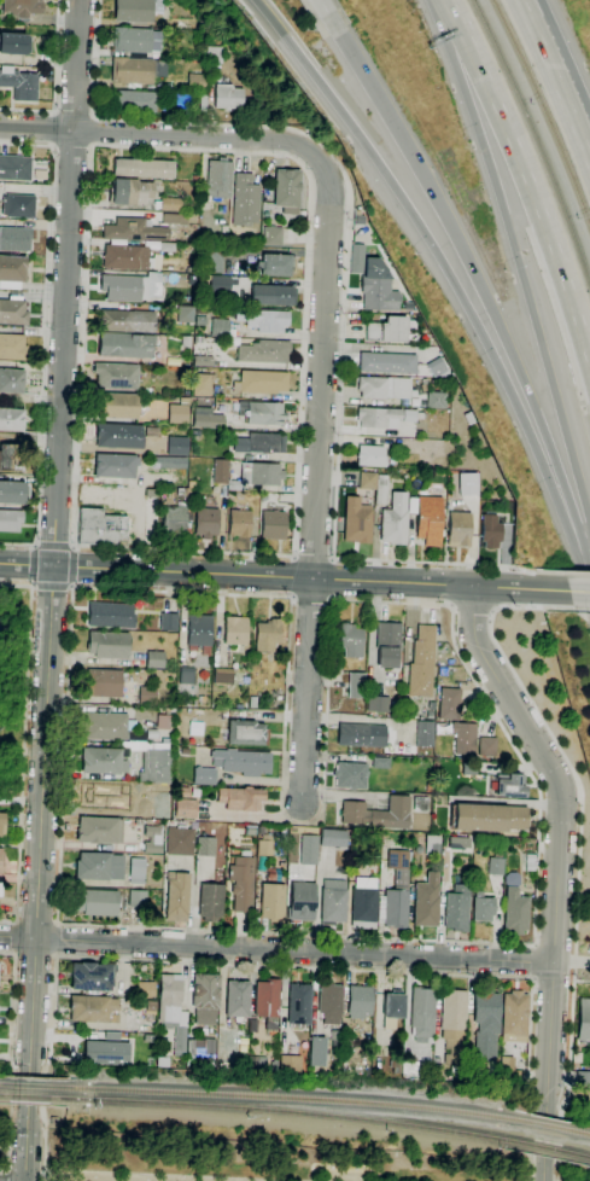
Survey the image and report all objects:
building: (22, 7)
building: (135, 10)
road: (327, 14)
building: (136, 41)
building: (13, 43)
building: (215, 54)
building: (136, 70)
road: (563, 77)
road: (56, 82)
road: (555, 82)
building: (21, 85)
building: (191, 91)
building: (228, 97)
building: (136, 101)
railway: (544, 110)
road: (49, 128)
road: (93, 132)
road: (160, 134)
railway: (537, 135)
road: (71, 147)
building: (14, 168)
building: (144, 168)
building: (195, 178)
road: (526, 179)
building: (218, 180)
building: (287, 191)
building: (144, 196)
building: (245, 200)
building: (18, 206)
building: (175, 219)
building: (358, 220)
building: (134, 229)
road: (87, 235)
building: (271, 235)
building: (14, 239)
building: (167, 248)
building: (129, 257)
road: (515, 260)
building: (276, 264)
building: (12, 272)
road: (449, 275)
building: (176, 279)
road: (65, 283)
building: (220, 284)
building: (132, 287)
building: (378, 287)
road: (344, 289)
road: (481, 291)
building: (273, 295)
building: (408, 306)
building: (201, 309)
building: (13, 312)
building: (186, 314)
building: (263, 320)
building: (127, 321)
building: (200, 321)
building: (220, 327)
building: (387, 331)
road: (46, 337)
building: (186, 341)
building: (125, 345)
building: (12, 347)
building: (264, 351)
building: (387, 362)
building: (436, 366)
building: (116, 376)
building: (11, 380)
building: (261, 382)
building: (201, 384)
building: (423, 386)
building: (385, 388)
building: (436, 400)
building: (117, 406)
building: (179, 411)
building: (263, 412)
building: (409, 415)
building: (379, 418)
building: (469, 418)
building: (11, 420)
building: (209, 420)
building: (118, 436)
building: (261, 443)
building: (176, 446)
building: (370, 455)
building: (10, 458)
building: (168, 462)
building: (115, 465)
building: (221, 471)
road: (298, 473)
building: (257, 475)
building: (159, 478)
road: (316, 479)
building: (368, 481)
building: (466, 483)
building: (191, 484)
building: (381, 489)
building: (180, 491)
building: (11, 493)
building: (179, 516)
building: (430, 519)
building: (10, 520)
building: (357, 520)
building: (395, 520)
building: (206, 523)
building: (239, 523)
building: (273, 524)
building: (101, 528)
building: (458, 529)
building: (491, 530)
road: (37, 545)
road: (54, 546)
road: (71, 547)
road: (31, 548)
road: (74, 548)
road: (314, 554)
road: (31, 565)
road: (74, 566)
road: (577, 574)
road: (284, 577)
road: (18, 586)
road: (74, 586)
road: (53, 587)
road: (71, 587)
road: (579, 592)
road: (310, 597)
road: (473, 607)
road: (582, 610)
building: (111, 615)
building: (168, 622)
building: (199, 629)
building: (235, 630)
building: (2, 633)
building: (267, 635)
building: (351, 640)
building: (109, 645)
building: (387, 645)
building: (257, 657)
building: (154, 659)
building: (422, 663)
building: (186, 675)
building: (223, 676)
building: (104, 682)
building: (356, 685)
park: (16, 693)
building: (146, 696)
building: (449, 703)
building: (378, 704)
building: (170, 711)
road: (285, 726)
building: (111, 727)
building: (246, 733)
building: (425, 733)
building: (362, 735)
building: (465, 737)
building: (486, 747)
road: (23, 761)
building: (241, 761)
building: (380, 762)
building: (104, 766)
building: (204, 775)
building: (350, 775)
building: (510, 786)
building: (183, 792)
building: (101, 798)
building: (241, 798)
building: (420, 804)
building: (186, 809)
road: (41, 811)
building: (160, 811)
building: (378, 813)
building: (489, 818)
building: (2, 824)
building: (99, 830)
building: (333, 838)
building: (152, 839)
building: (180, 842)
road: (578, 842)
building: (432, 844)
building: (204, 847)
building: (265, 847)
building: (309, 850)
building: (1, 860)
road: (559, 860)
building: (530, 862)
building: (99, 866)
building: (496, 866)
building: (138, 871)
building: (512, 879)
building: (241, 883)
building: (396, 892)
building: (176, 896)
building: (136, 900)
building: (273, 901)
building: (302, 901)
building: (333, 901)
building: (97, 902)
building: (210, 902)
building: (363, 902)
building: (426, 902)
building: (483, 907)
building: (457, 908)
building: (514, 912)
road: (370, 936)
road: (13, 938)
road: (54, 939)
road: (276, 950)
road: (531, 961)
road: (572, 962)
road: (285, 967)
building: (90, 976)
building: (145, 989)
building: (205, 997)
building: (267, 997)
building: (238, 999)
building: (358, 1002)
building: (299, 1003)
building: (329, 1003)
building: (150, 1006)
building: (93, 1008)
building: (173, 1010)
building: (392, 1010)
building: (422, 1011)
building: (514, 1014)
building: (583, 1019)
building: (486, 1023)
building: (452, 1024)
building: (253, 1025)
building: (200, 1048)
building: (104, 1052)
building: (317, 1052)
road: (13, 1058)
building: (251, 1060)
building: (162, 1061)
building: (288, 1063)
building: (409, 1071)
building: (508, 1074)
building: (426, 1077)
building: (583, 1080)
railway: (5, 1083)
railway: (28, 1086)
road: (29, 1086)
railway: (4, 1095)
railway: (27, 1096)
railway: (286, 1096)
railway: (285, 1111)
railway: (544, 1125)
railway: (577, 1131)
road: (27, 1147)
railway: (543, 1148)
railway: (577, 1154)
park: (252, 1159)
road: (544, 1170)
road: (5, 1175)
road: (43, 1176)

